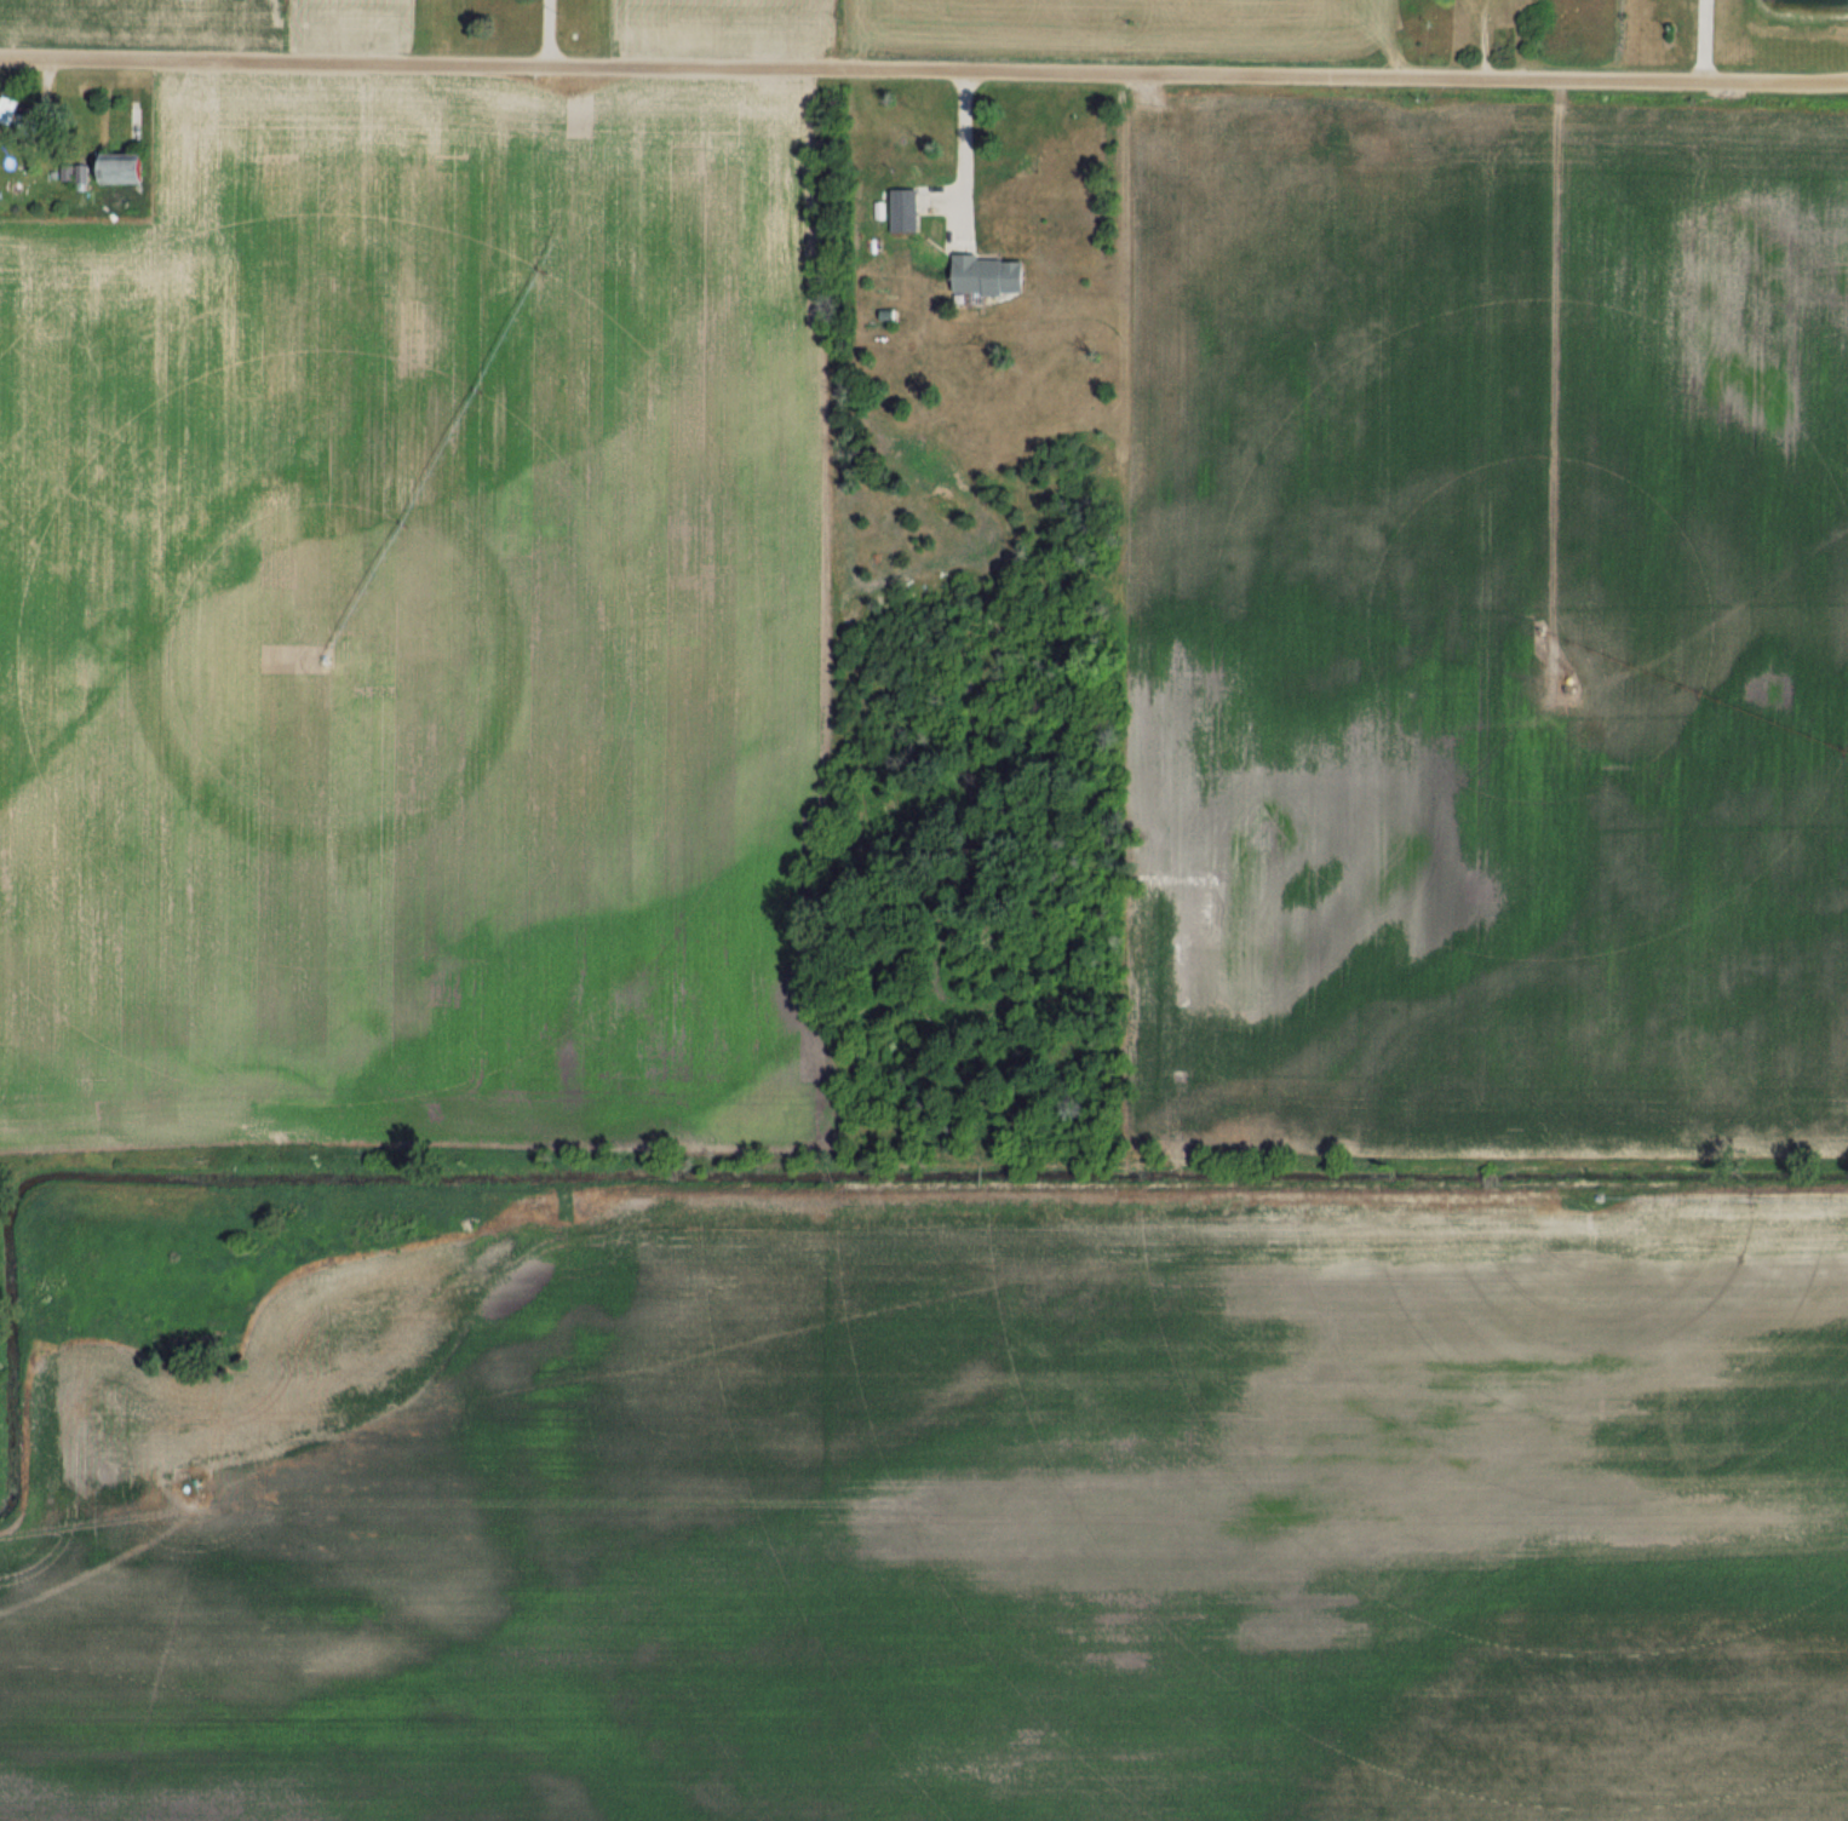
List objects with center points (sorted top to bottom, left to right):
road: (547, 31)
road: (1694, 39)
road: (924, 67)
building: (18, 117)
road: (964, 151)
building: (128, 168)
building: (906, 209)
building: (991, 275)

